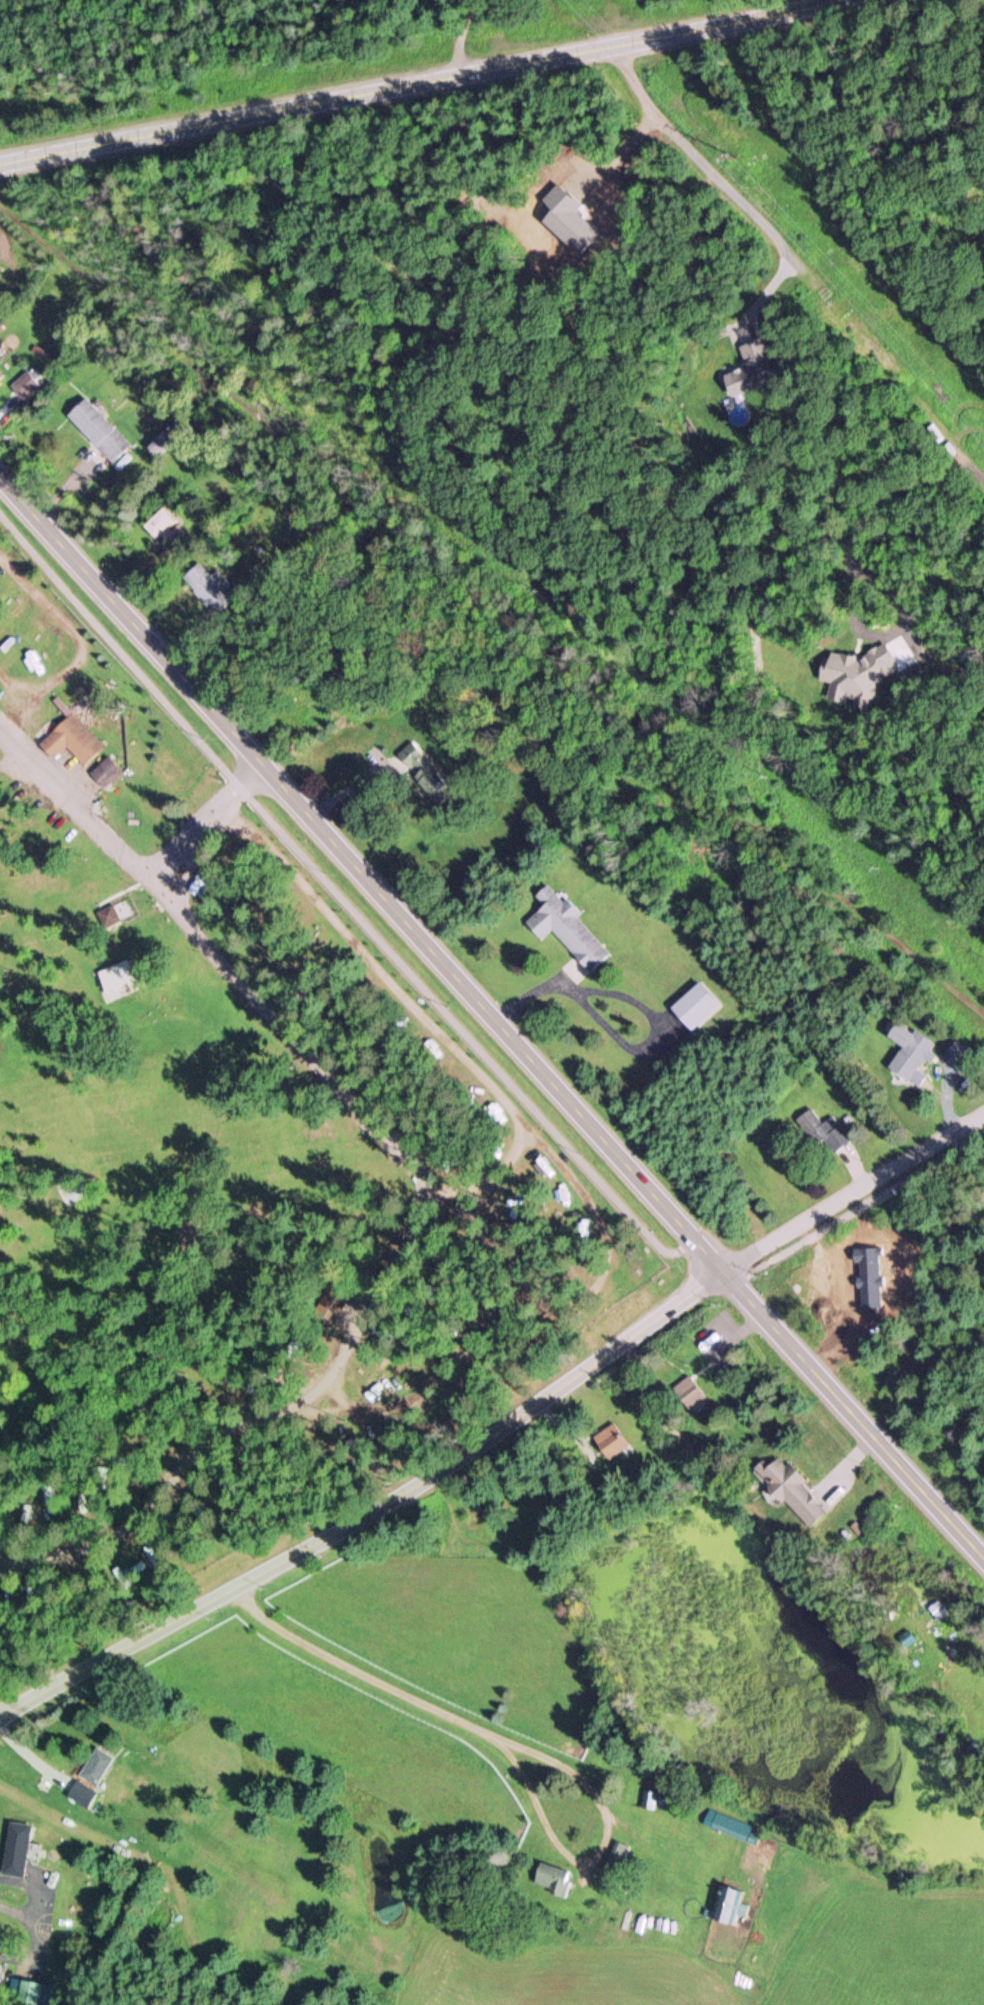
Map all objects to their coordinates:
road: (423, 80)
power tower: (728, 143)
road: (795, 262)
road: (762, 292)
building: (751, 365)
building: (0, 372)
building: (23, 384)
building: (95, 428)
building: (156, 444)
building: (158, 525)
building: (207, 587)
building: (69, 739)
building: (103, 771)
building: (422, 771)
road: (208, 822)
building: (564, 927)
building: (116, 977)
building: (693, 1006)
road: (492, 1017)
road: (457, 1026)
building: (907, 1049)
building: (821, 1131)
park: (244, 1160)
road: (419, 1184)
road: (853, 1193)
building: (331, 1303)
building: (688, 1391)
building: (610, 1440)
building: (790, 1489)
building: (526, 1499)
road: (371, 1509)
building: (937, 1609)
road: (525, 1747)
building: (95, 1765)
building: (80, 1793)
building: (730, 1825)
building: (15, 1848)
building: (552, 1879)
building: (728, 1903)
building: (30, 1990)

